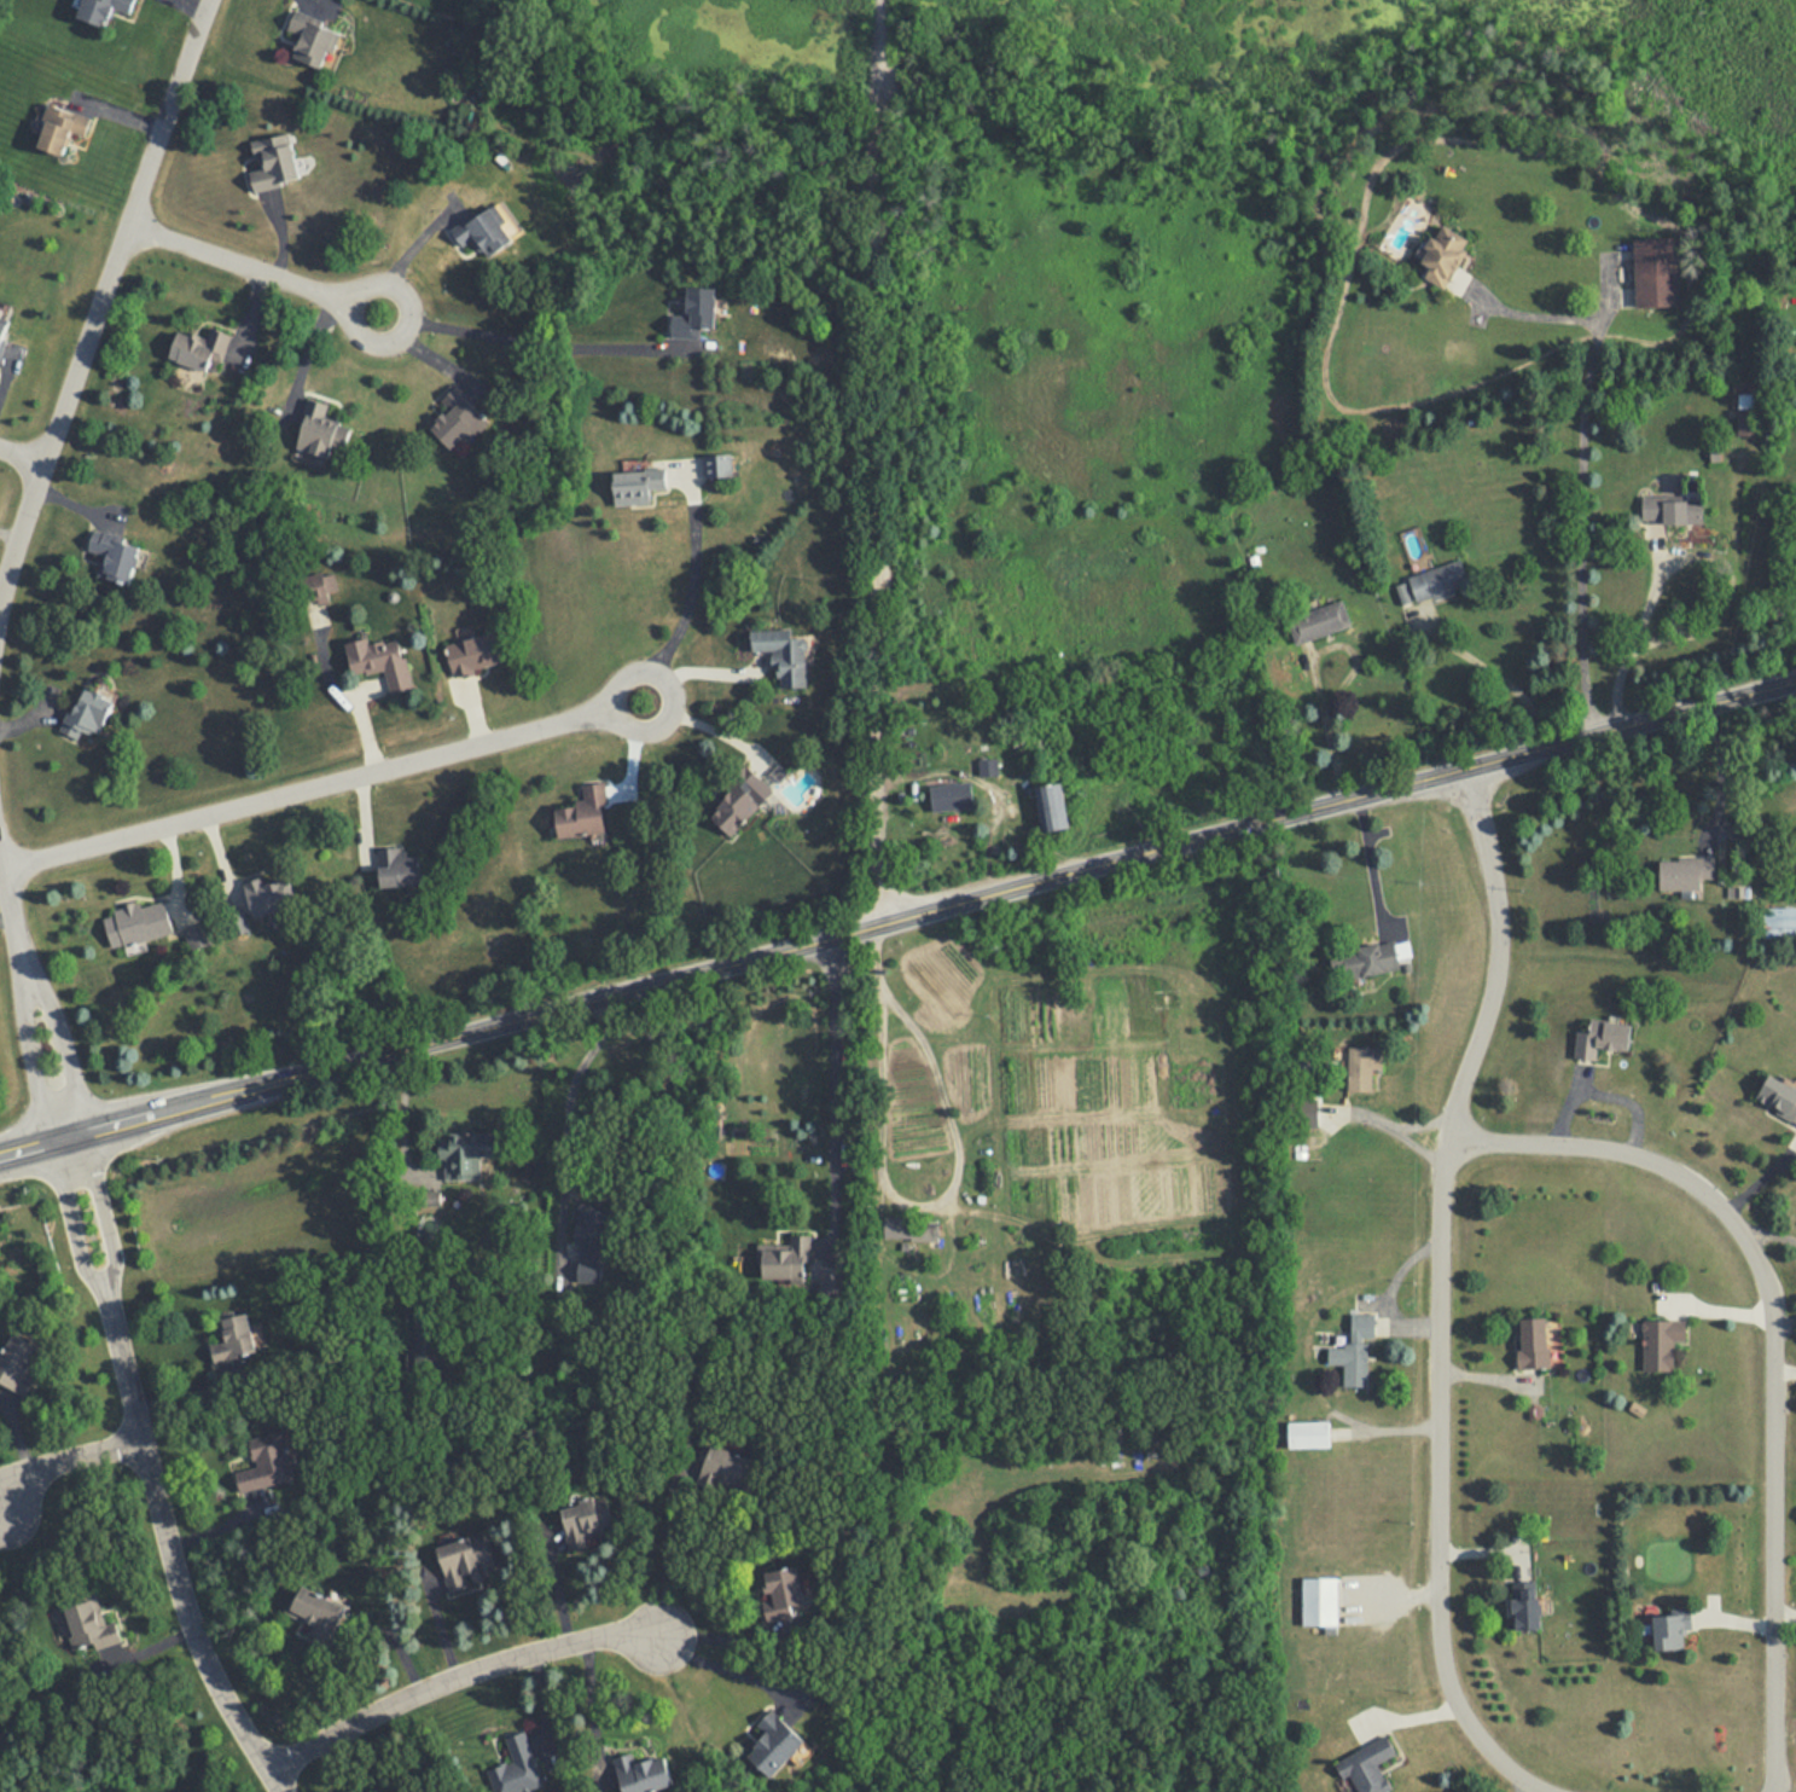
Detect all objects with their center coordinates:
building: (126, 1)
road: (204, 4)
building: (92, 7)
building: (310, 25)
building: (315, 44)
road: (124, 110)
building: (63, 120)
building: (271, 152)
building: (481, 224)
road: (283, 233)
road: (406, 250)
building: (1443, 256)
road: (255, 269)
building: (1656, 274)
road: (104, 302)
building: (694, 311)
road: (250, 314)
building: (2, 327)
road: (533, 336)
building: (200, 337)
road: (424, 346)
road: (307, 350)
road: (6, 369)
building: (455, 406)
building: (1748, 416)
building: (316, 422)
road: (21, 457)
road: (1582, 458)
road: (878, 463)
building: (719, 468)
building: (638, 476)
road: (74, 494)
building: (1672, 510)
road: (11, 528)
building: (114, 543)
road: (1690, 551)
building: (1437, 581)
road: (692, 587)
building: (318, 588)
building: (1319, 621)
building: (473, 646)
building: (784, 648)
building: (378, 651)
road: (698, 666)
road: (1313, 669)
road: (1492, 669)
road: (358, 698)
building: (87, 703)
road: (473, 713)
road: (28, 714)
road: (703, 721)
road: (1567, 741)
road: (634, 746)
road: (986, 777)
road: (322, 785)
building: (737, 791)
building: (951, 798)
building: (583, 805)
building: (1052, 807)
road: (365, 812)
road: (222, 851)
building: (397, 862)
road: (1371, 863)
road: (1, 866)
road: (174, 866)
building: (1685, 872)
building: (269, 886)
road: (6, 914)
road: (13, 915)
building: (138, 915)
building: (1780, 917)
building: (199, 938)
road: (1498, 955)
building: (1374, 958)
road: (669, 979)
building: (1602, 1038)
road: (64, 1054)
road: (34, 1062)
building: (1362, 1067)
road: (838, 1084)
road: (1602, 1096)
building: (1778, 1097)
road: (568, 1132)
building: (463, 1160)
road: (104, 1214)
road: (72, 1222)
building: (909, 1229)
building: (591, 1245)
building: (785, 1260)
building: (234, 1339)
building: (1533, 1344)
building: (1661, 1344)
road: (1772, 1349)
building: (1355, 1351)
building: (16, 1356)
road: (18, 1434)
building: (1308, 1434)
road: (64, 1462)
building: (268, 1463)
building: (726, 1471)
road: (1436, 1490)
road: (1, 1508)
road: (1, 1509)
road: (1, 1513)
building: (583, 1520)
road: (668, 1547)
road: (169, 1553)
building: (465, 1562)
building: (784, 1591)
building: (1319, 1601)
building: (1527, 1605)
building: (315, 1613)
building: (89, 1619)
building: (1670, 1630)
road: (149, 1646)
road: (721, 1668)
road: (454, 1677)
building: (775, 1745)
building: (1368, 1765)
building: (518, 1768)
building: (643, 1774)

